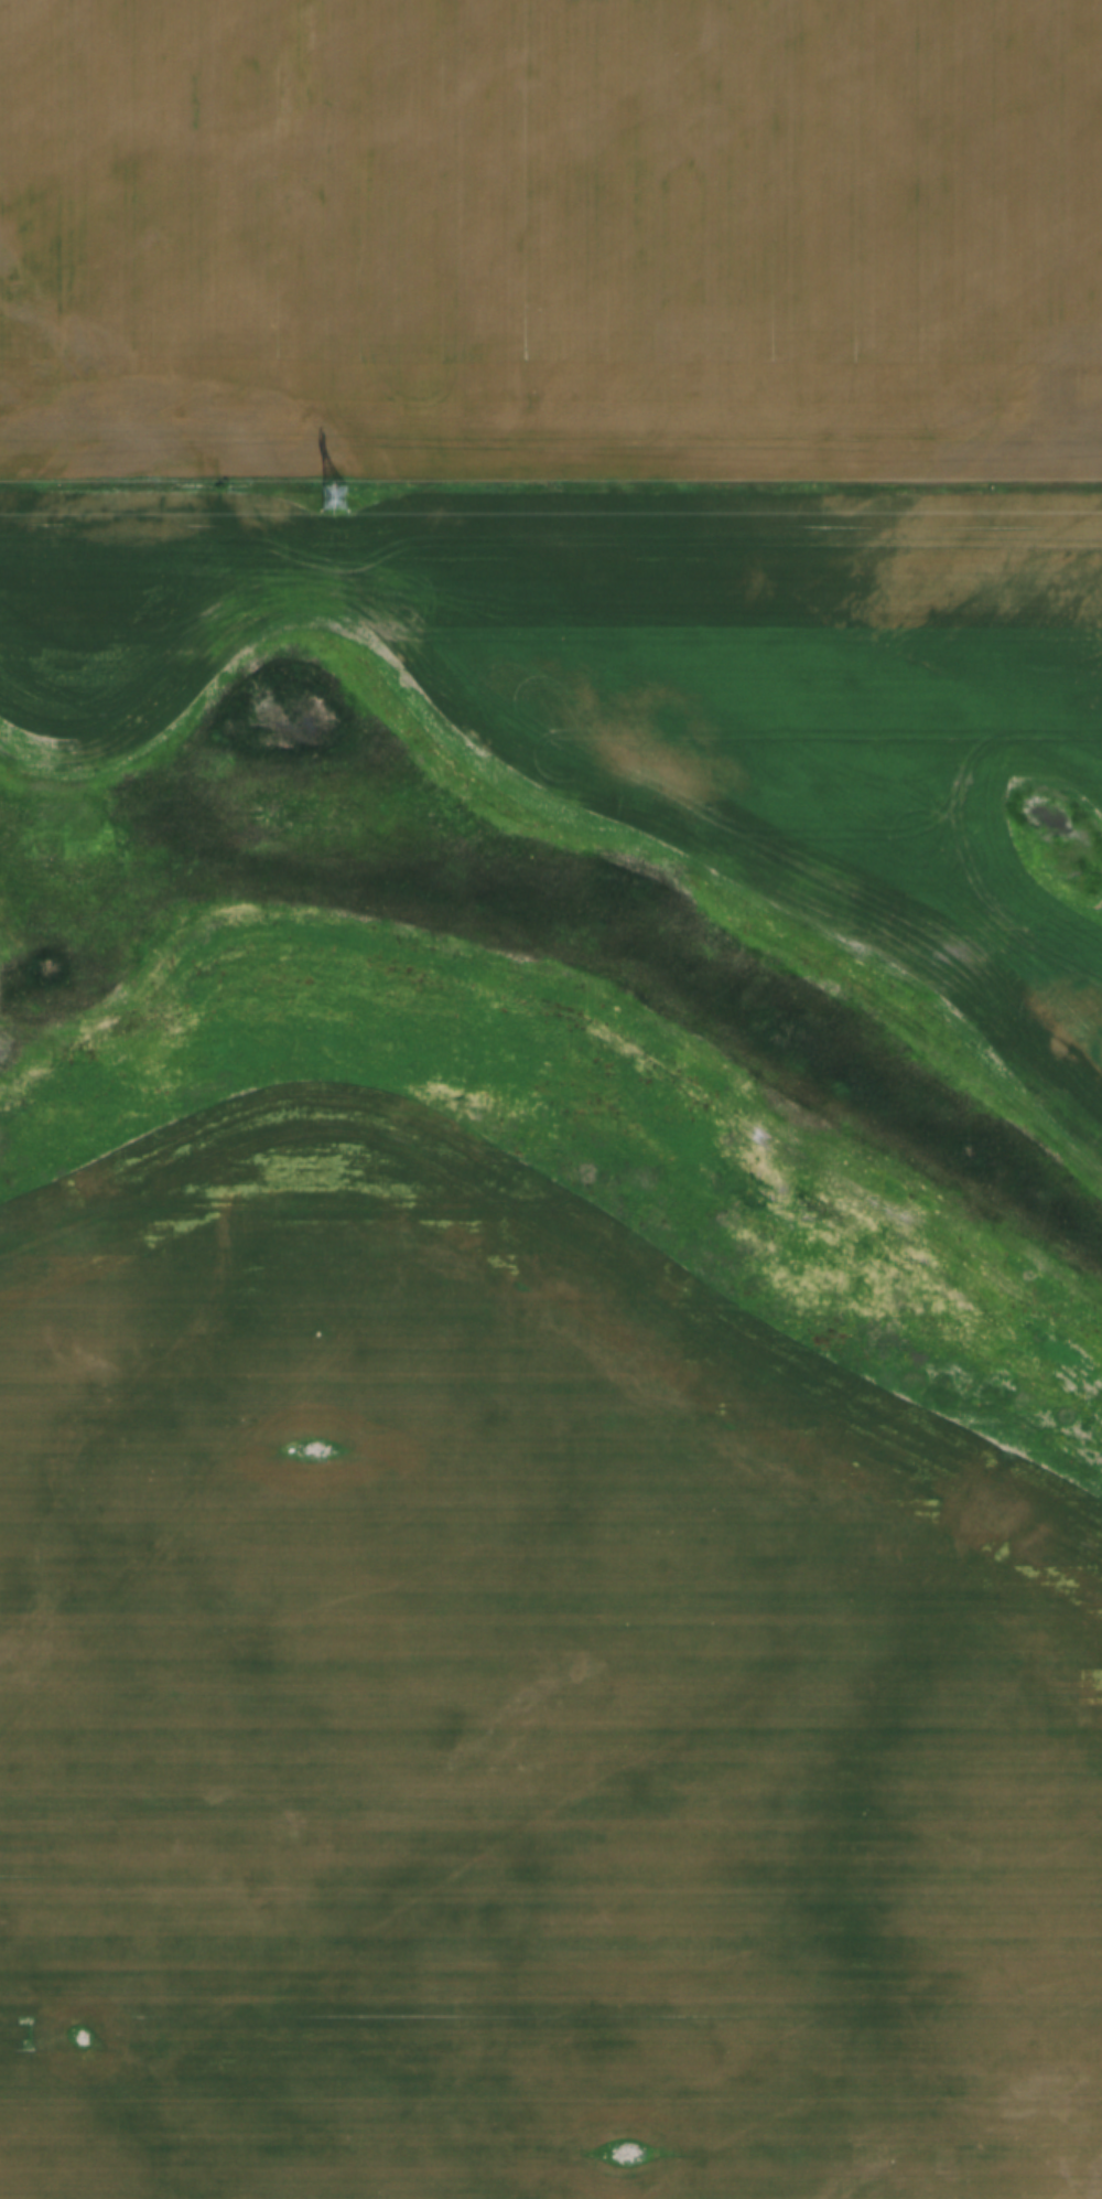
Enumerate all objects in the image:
power tower: (336, 498)

